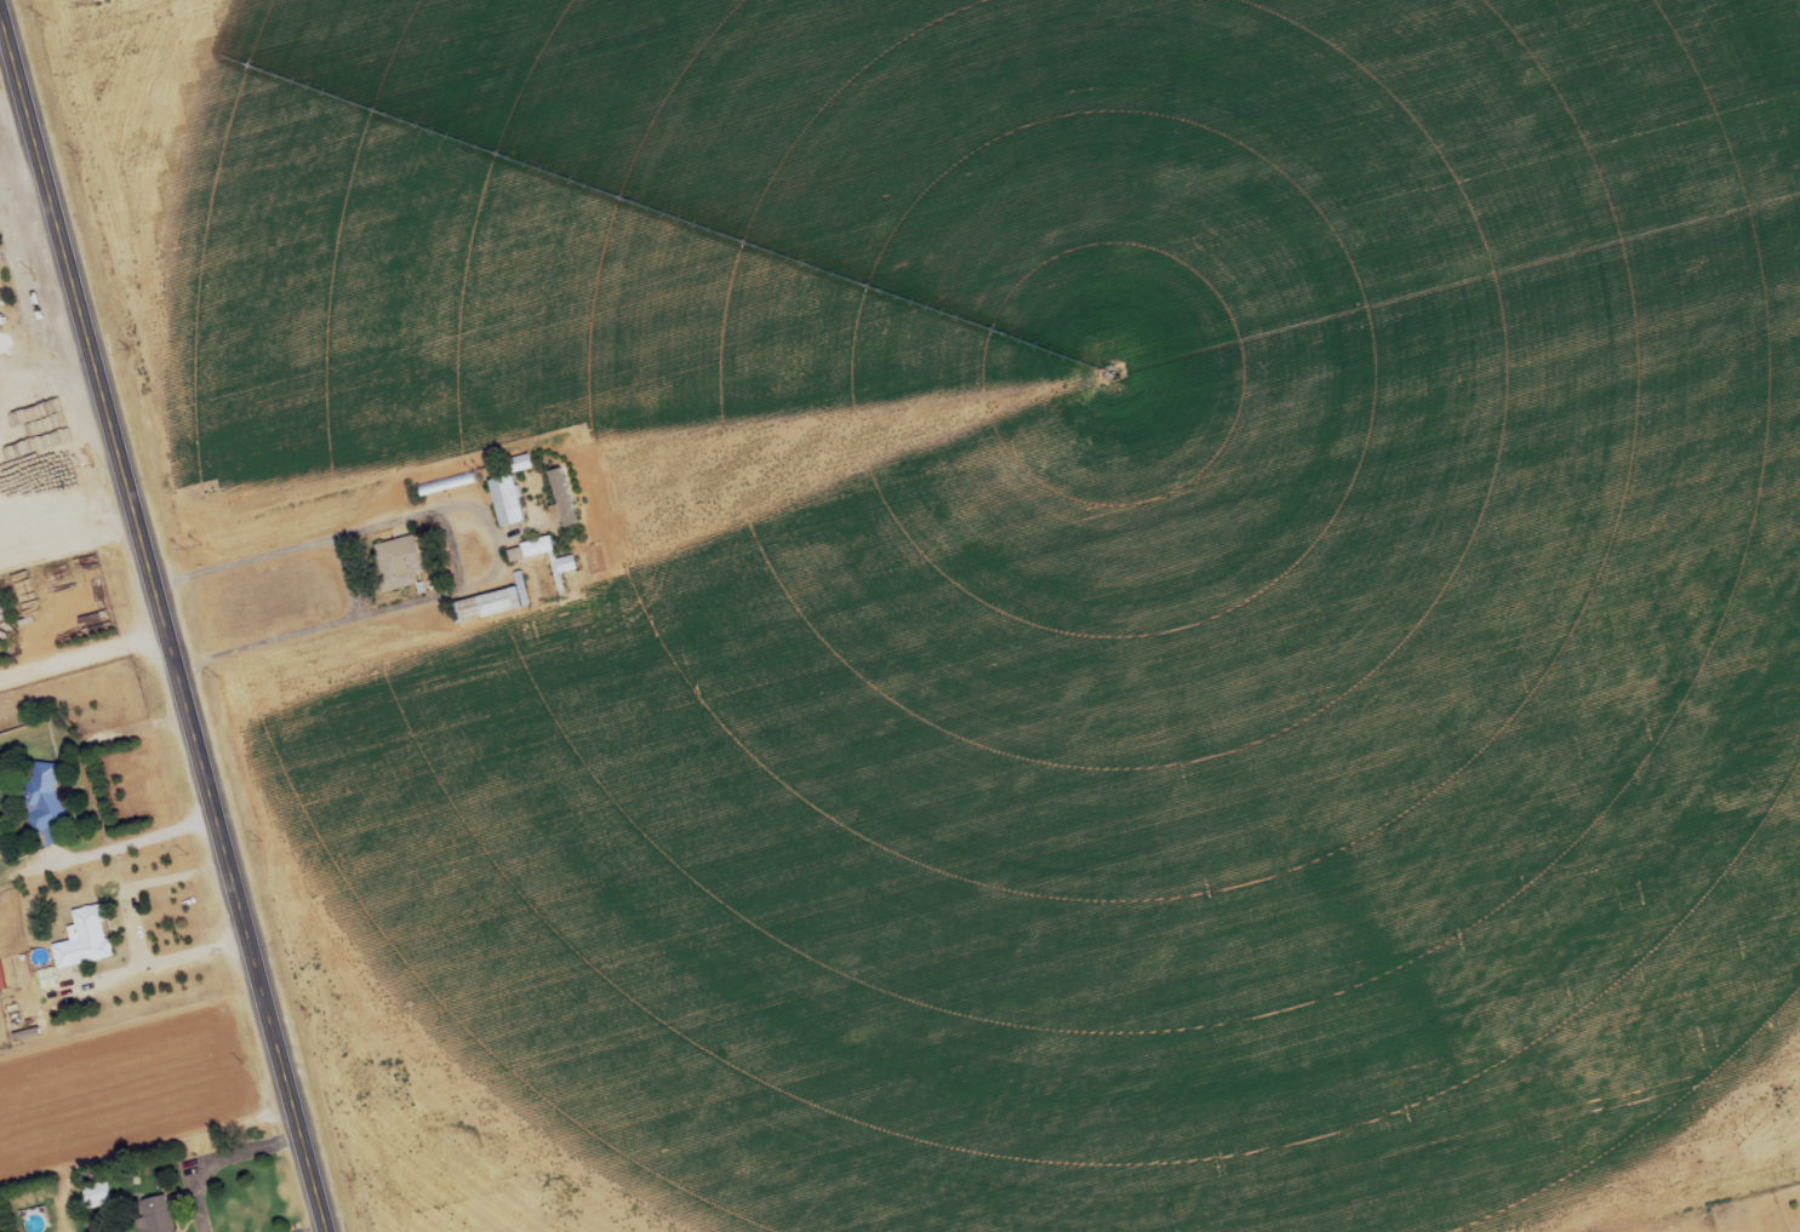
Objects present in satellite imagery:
building: (1712, 57)
building: (18, 337)
building: (531, 463)
building: (447, 483)
building: (507, 502)
road: (493, 540)
building: (536, 548)
building: (399, 562)
building: (487, 604)
road: (164, 624)
building: (46, 808)
building: (85, 938)
road: (218, 1154)
building: (96, 1194)
building: (154, 1214)
building: (35, 1220)
road: (308, 1227)

